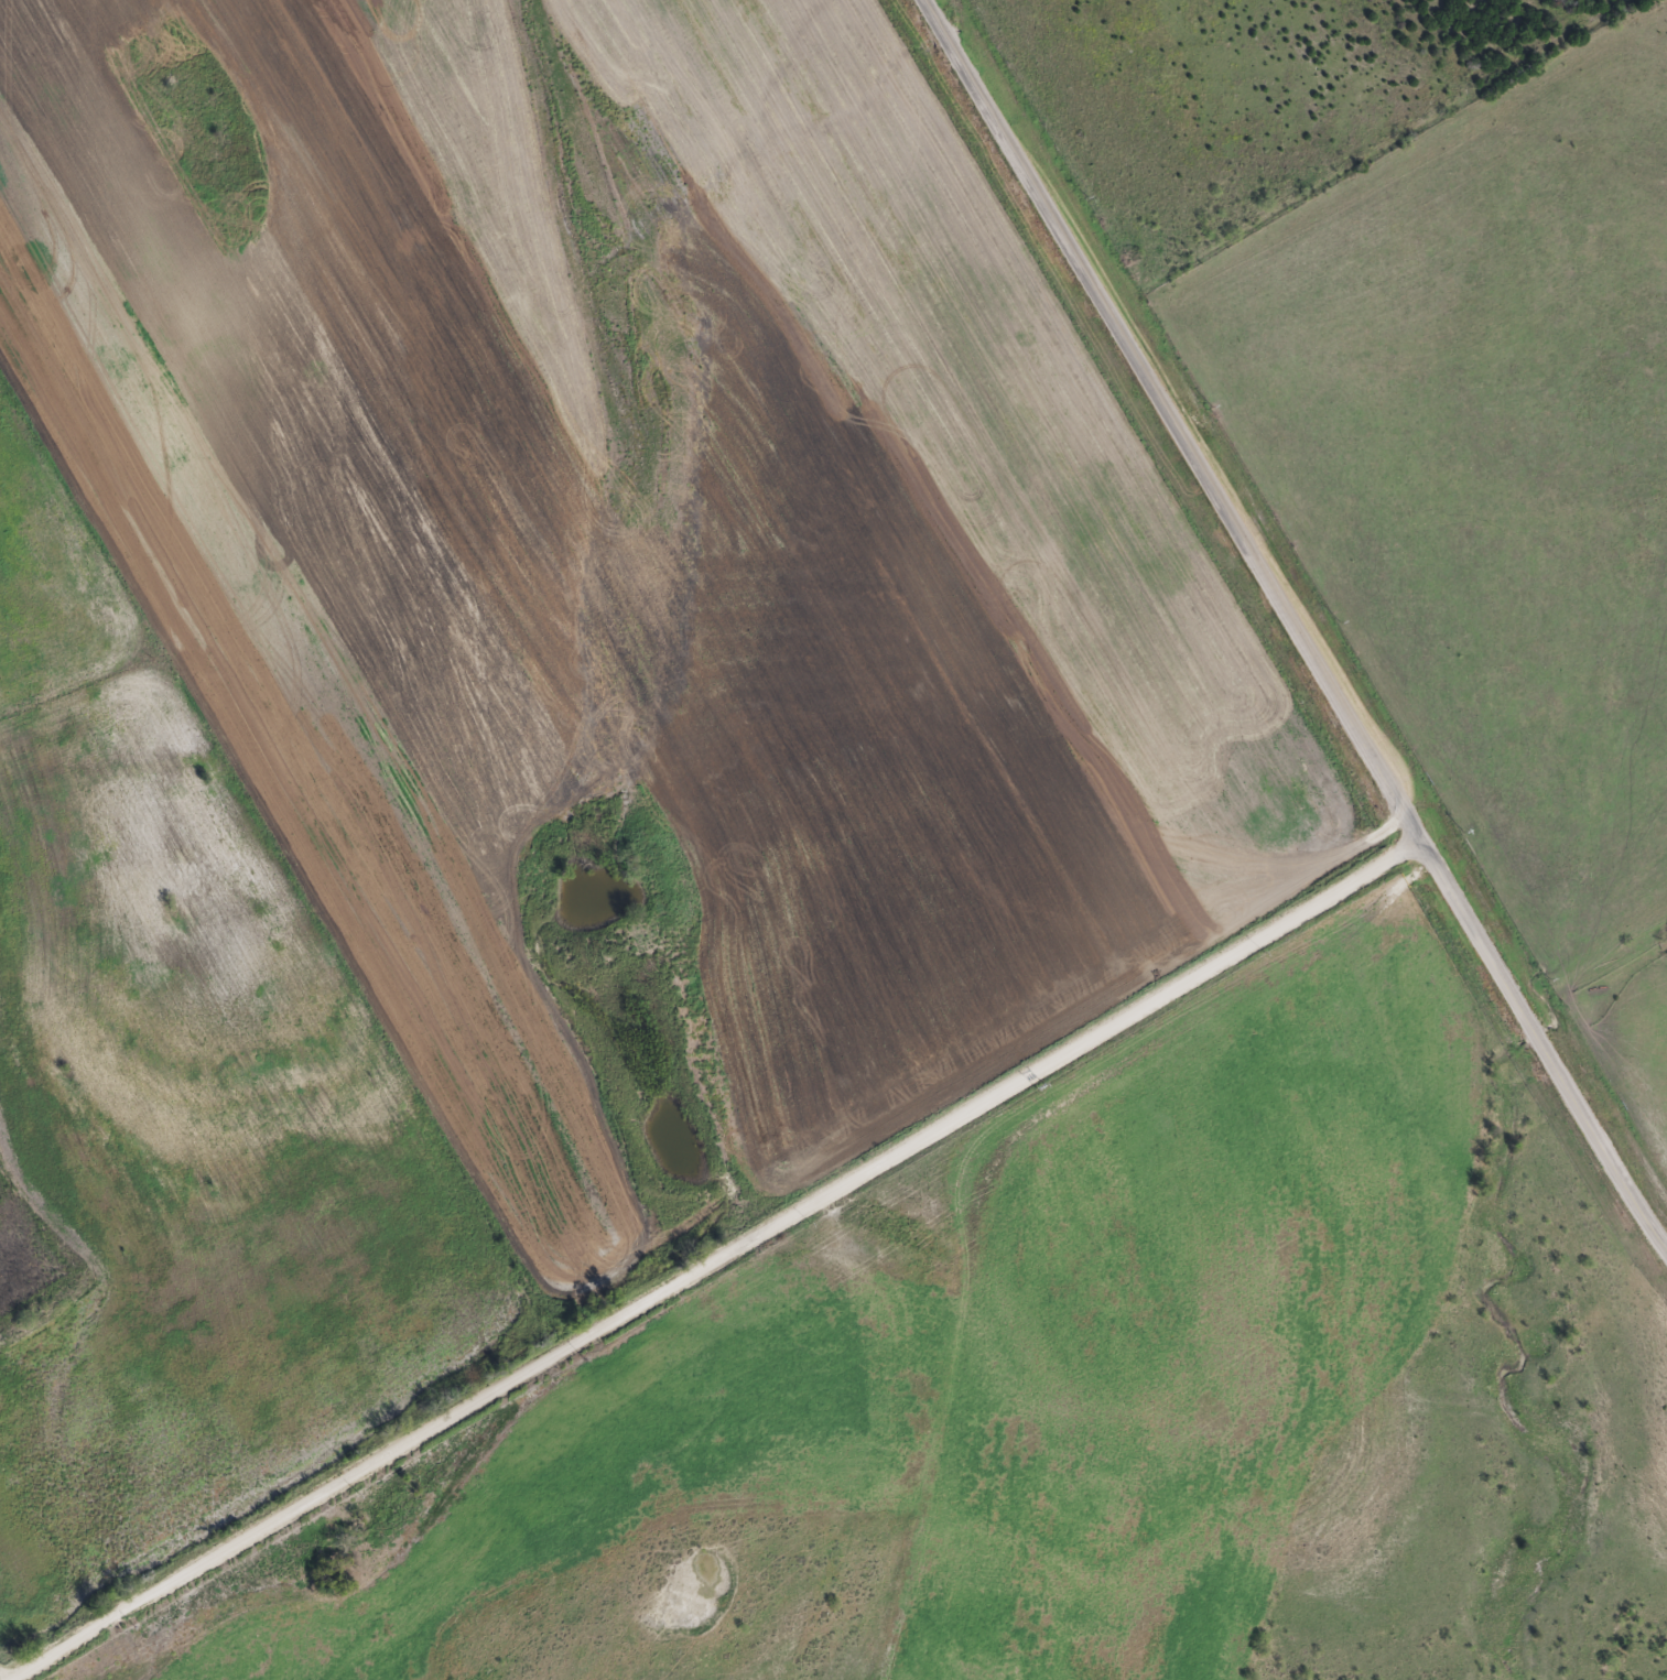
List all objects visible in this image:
road: (1296, 625)
road: (725, 1269)

